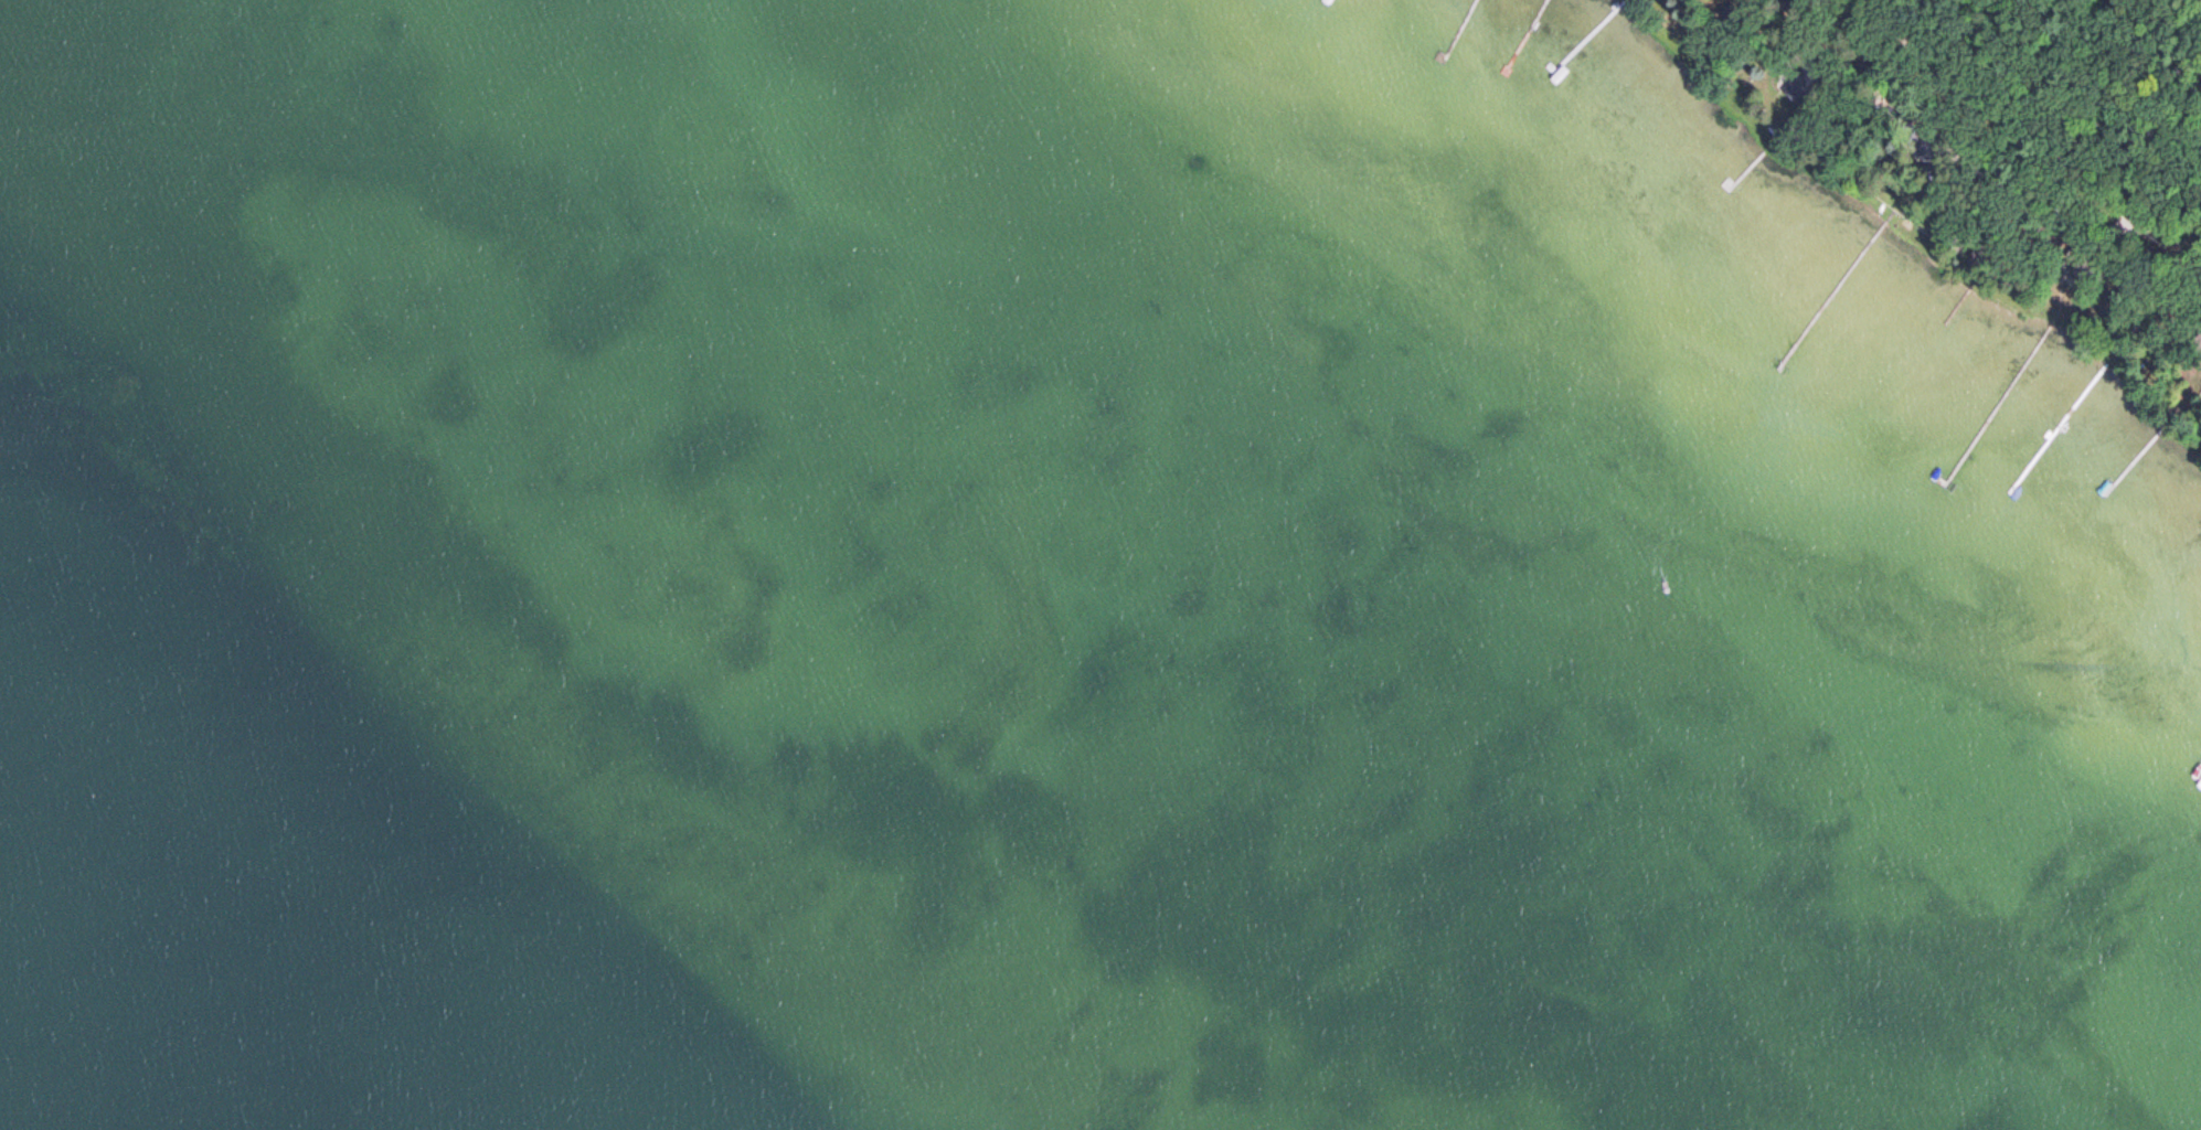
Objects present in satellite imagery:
road: (1932, 17)
road: (2021, 125)
river: (60, 1090)

